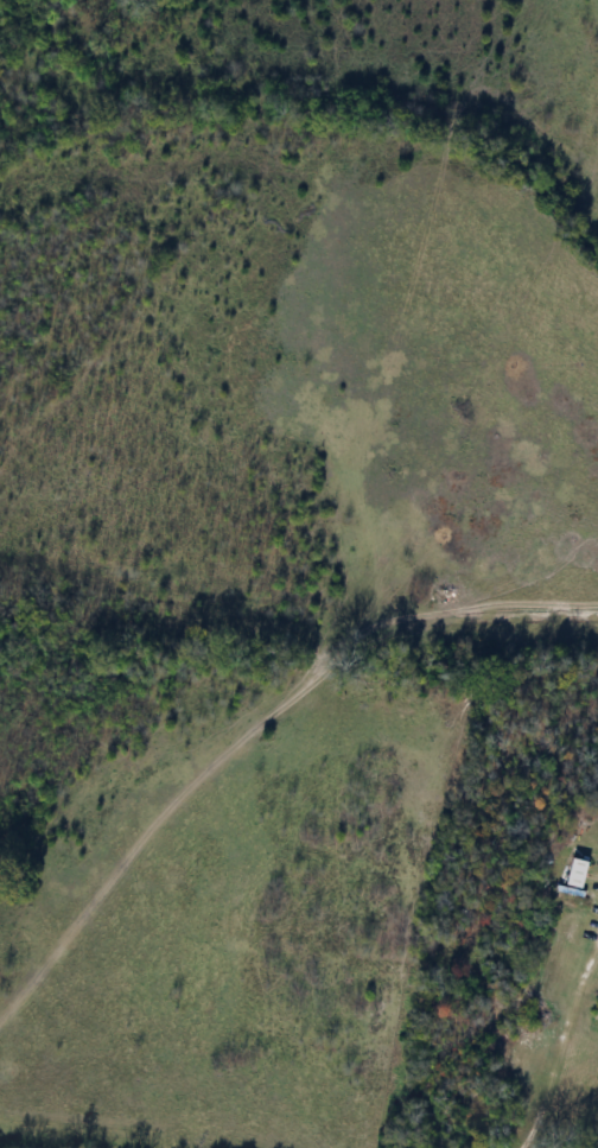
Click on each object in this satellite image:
road: (597, 924)

